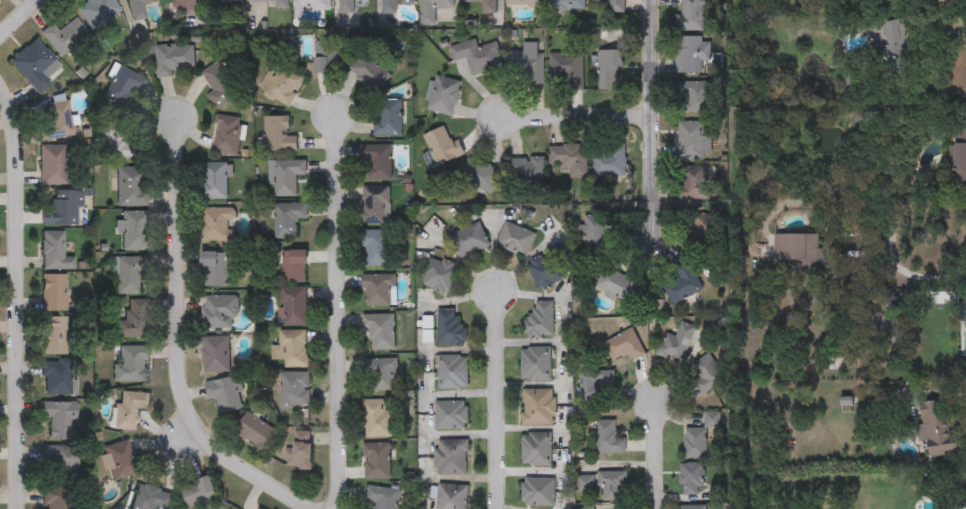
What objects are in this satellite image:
building: (946, 1)
building: (524, 2)
building: (274, 3)
building: (225, 4)
building: (566, 4)
building: (311, 5)
building: (392, 5)
building: (485, 5)
building: (611, 5)
building: (346, 6)
building: (183, 8)
building: (138, 9)
building: (432, 10)
building: (97, 11)
building: (690, 15)
road: (18, 19)
building: (64, 36)
building: (896, 49)
building: (690, 53)
building: (325, 56)
building: (477, 56)
building: (173, 58)
building: (33, 64)
building: (528, 67)
building: (567, 69)
building: (610, 69)
road: (935, 70)
building: (368, 71)
building: (281, 83)
building: (219, 85)
building: (120, 87)
building: (442, 94)
building: (694, 97)
building: (388, 117)
road: (575, 117)
road: (651, 117)
building: (56, 121)
building: (277, 134)
building: (227, 135)
building: (115, 140)
building: (692, 140)
building: (441, 144)
building: (958, 156)
building: (568, 159)
building: (376, 160)
building: (609, 160)
building: (52, 164)
building: (526, 168)
building: (285, 176)
building: (480, 177)
building: (216, 180)
building: (696, 183)
building: (132, 186)
building: (375, 204)
building: (61, 208)
road: (835, 208)
building: (287, 219)
building: (217, 224)
building: (133, 229)
building: (595, 234)
building: (705, 234)
building: (515, 238)
building: (469, 240)
building: (376, 248)
building: (799, 250)
building: (54, 252)
building: (291, 265)
building: (213, 268)
building: (547, 270)
building: (130, 274)
building: (439, 275)
road: (924, 275)
building: (616, 284)
building: (682, 284)
building: (378, 290)
building: (54, 292)
road: (17, 297)
building: (897, 302)
building: (293, 306)
building: (219, 311)
road: (340, 311)
building: (540, 319)
building: (133, 321)
building: (450, 328)
building: (380, 331)
building: (54, 335)
road: (177, 341)
building: (678, 342)
building: (624, 345)
building: (291, 348)
building: (215, 354)
building: (535, 363)
building: (130, 365)
building: (453, 371)
building: (707, 373)
building: (380, 374)
building: (58, 378)
building: (594, 383)
building: (294, 388)
building: (224, 394)
road: (498, 399)
building: (538, 407)
building: (129, 409)
building: (451, 415)
road: (965, 416)
building: (377, 418)
building: (58, 420)
building: (935, 430)
building: (255, 431)
building: (700, 436)
building: (609, 437)
building: (536, 448)
building: (300, 449)
road: (654, 455)
building: (451, 456)
building: (119, 460)
building: (376, 460)
building: (59, 463)
building: (690, 478)
building: (612, 484)
building: (538, 490)
building: (198, 492)
building: (451, 496)
building: (382, 497)
building: (57, 498)
building: (151, 498)
building: (692, 507)
building: (260, 508)

